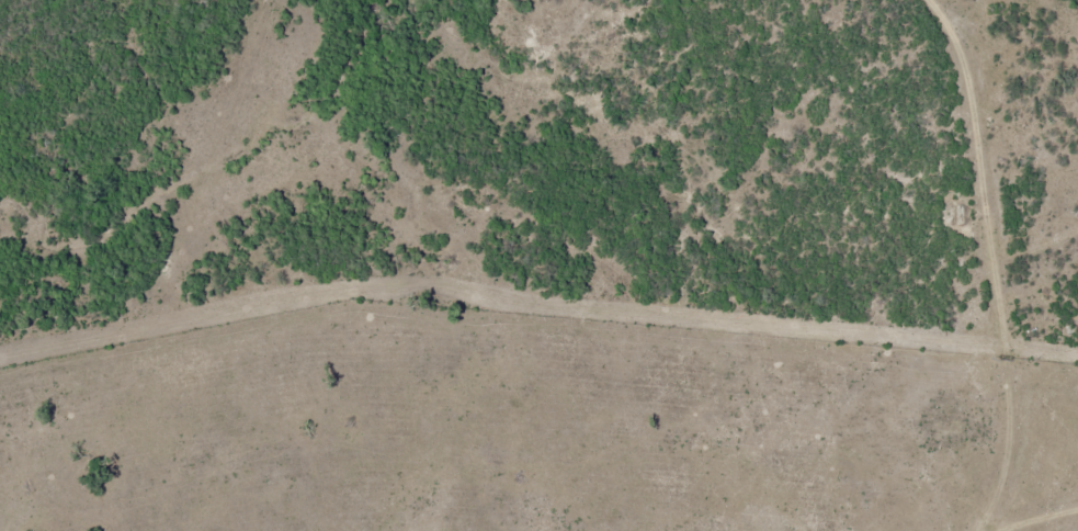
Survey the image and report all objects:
road: (978, 268)
road: (1032, 292)

